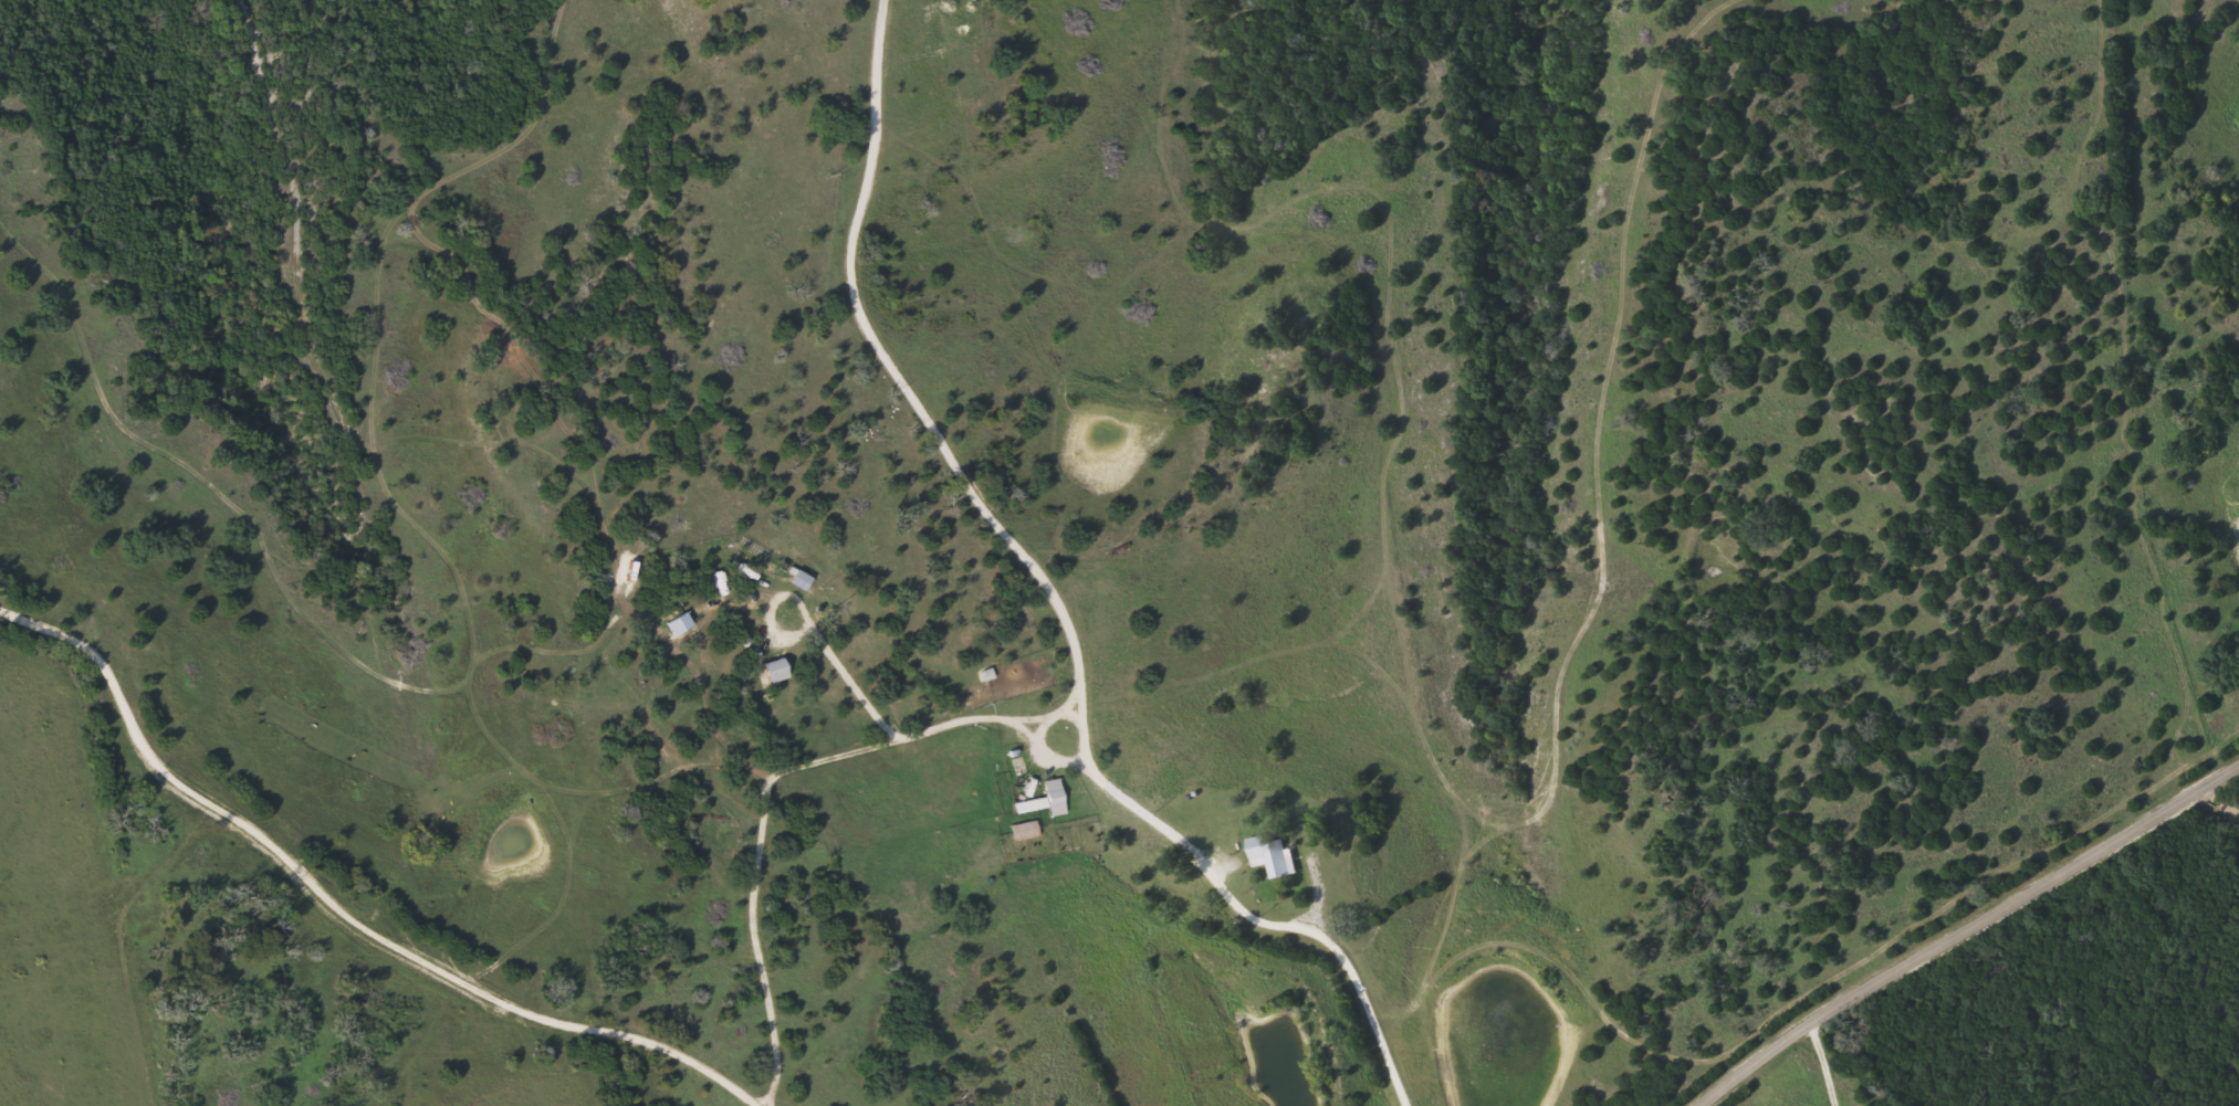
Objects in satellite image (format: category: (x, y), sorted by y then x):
road: (313, 280)
road: (1059, 594)
building: (773, 668)
road: (911, 741)
building: (1046, 799)
road: (2217, 807)
building: (1025, 831)
building: (1272, 853)
road: (337, 903)
road: (1966, 927)
road: (1821, 1065)

